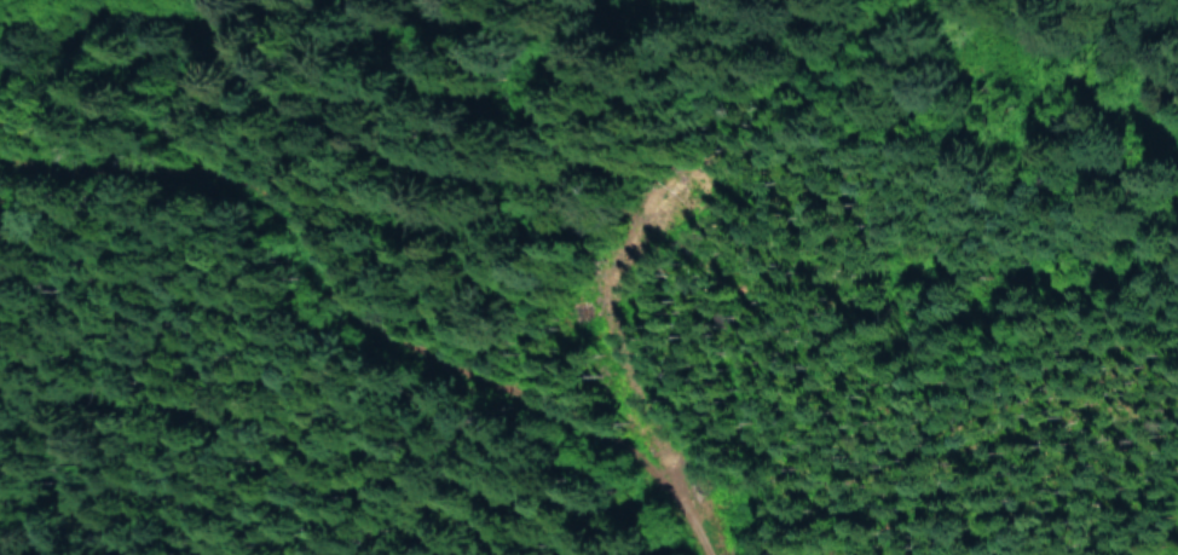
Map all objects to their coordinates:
road: (354, 323)

